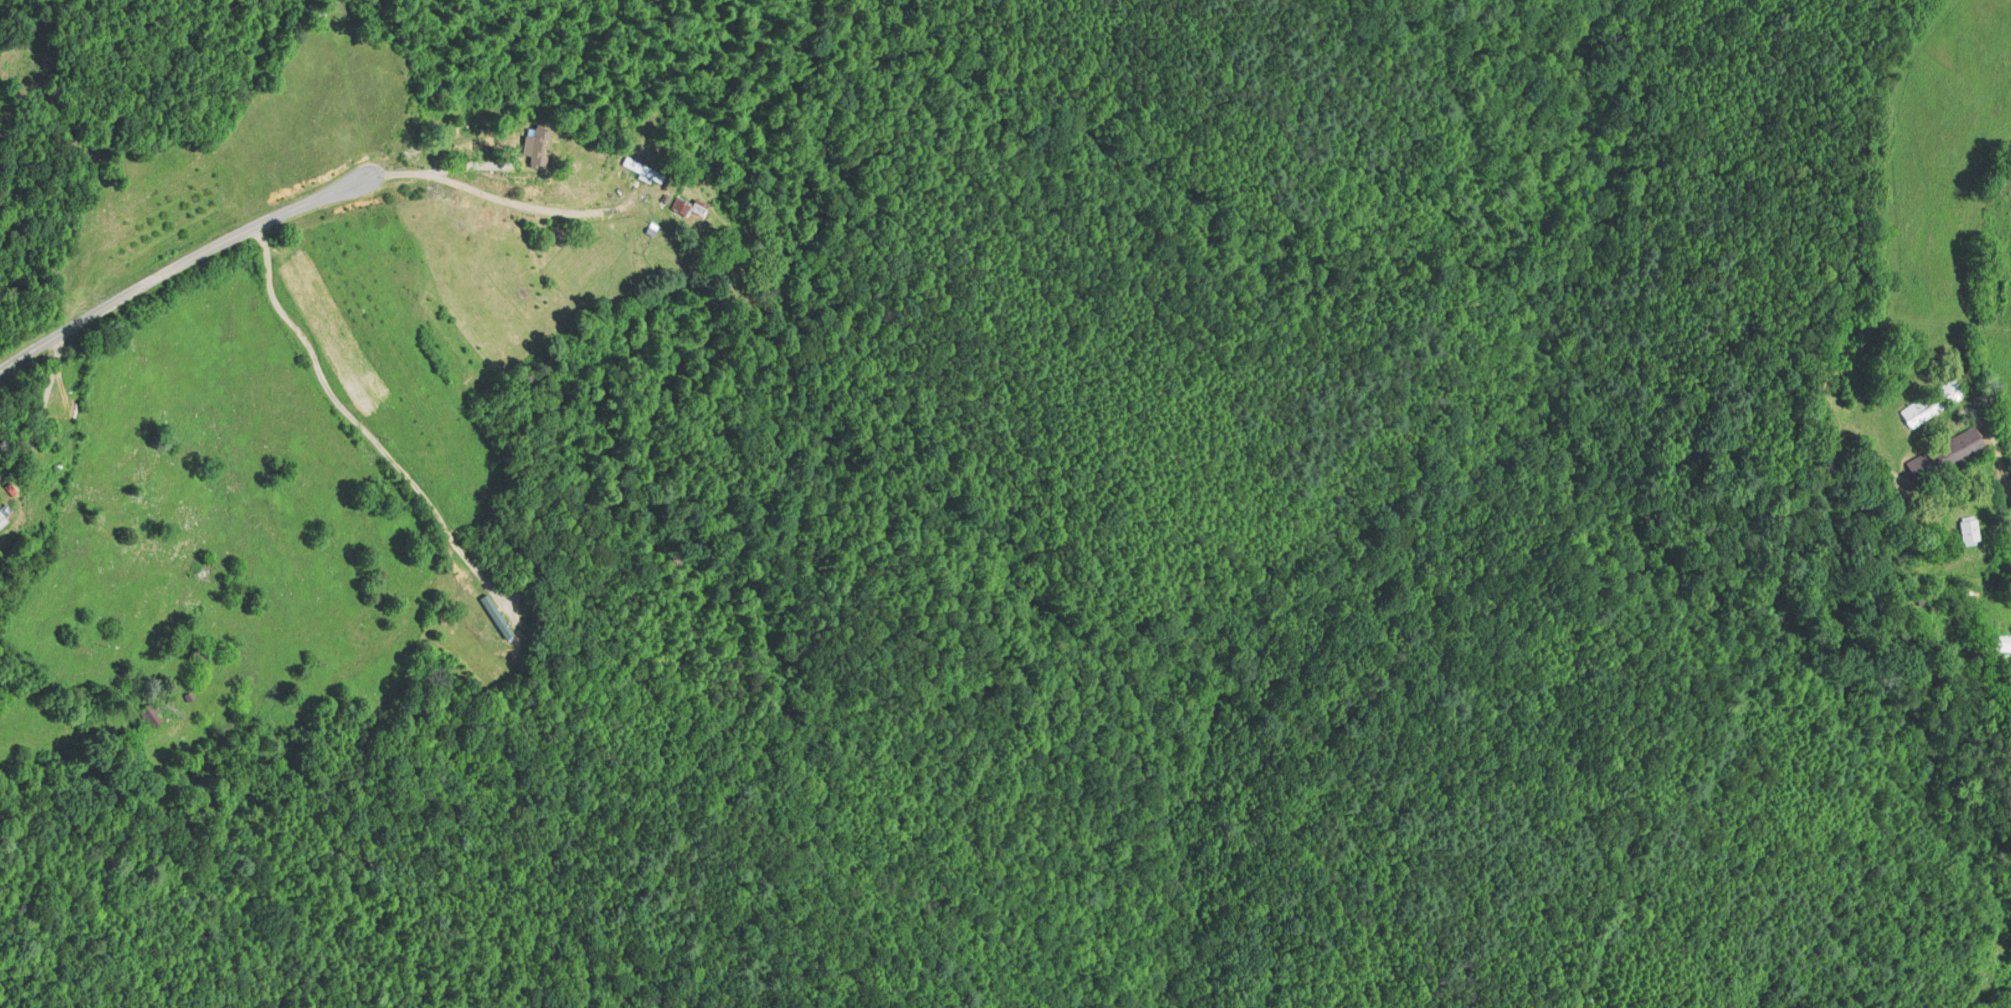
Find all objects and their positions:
building: (644, 170)
road: (482, 200)
road: (174, 258)
building: (1934, 404)
road: (339, 419)
building: (1948, 455)
road: (2002, 462)
building: (4, 510)
building: (1970, 532)
building: (493, 618)
building: (1994, 642)
building: (146, 716)

